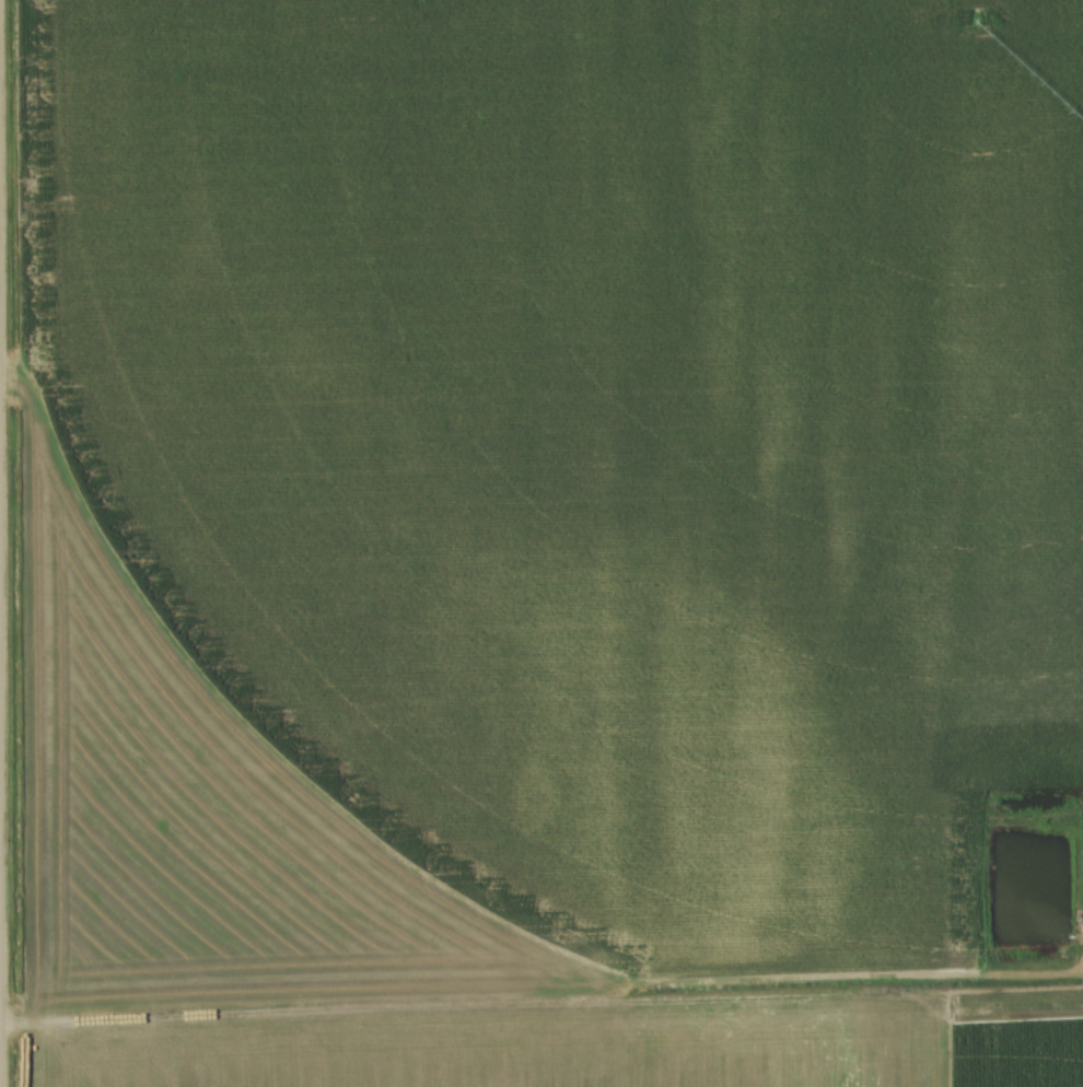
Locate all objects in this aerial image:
crop: (549, 542)

